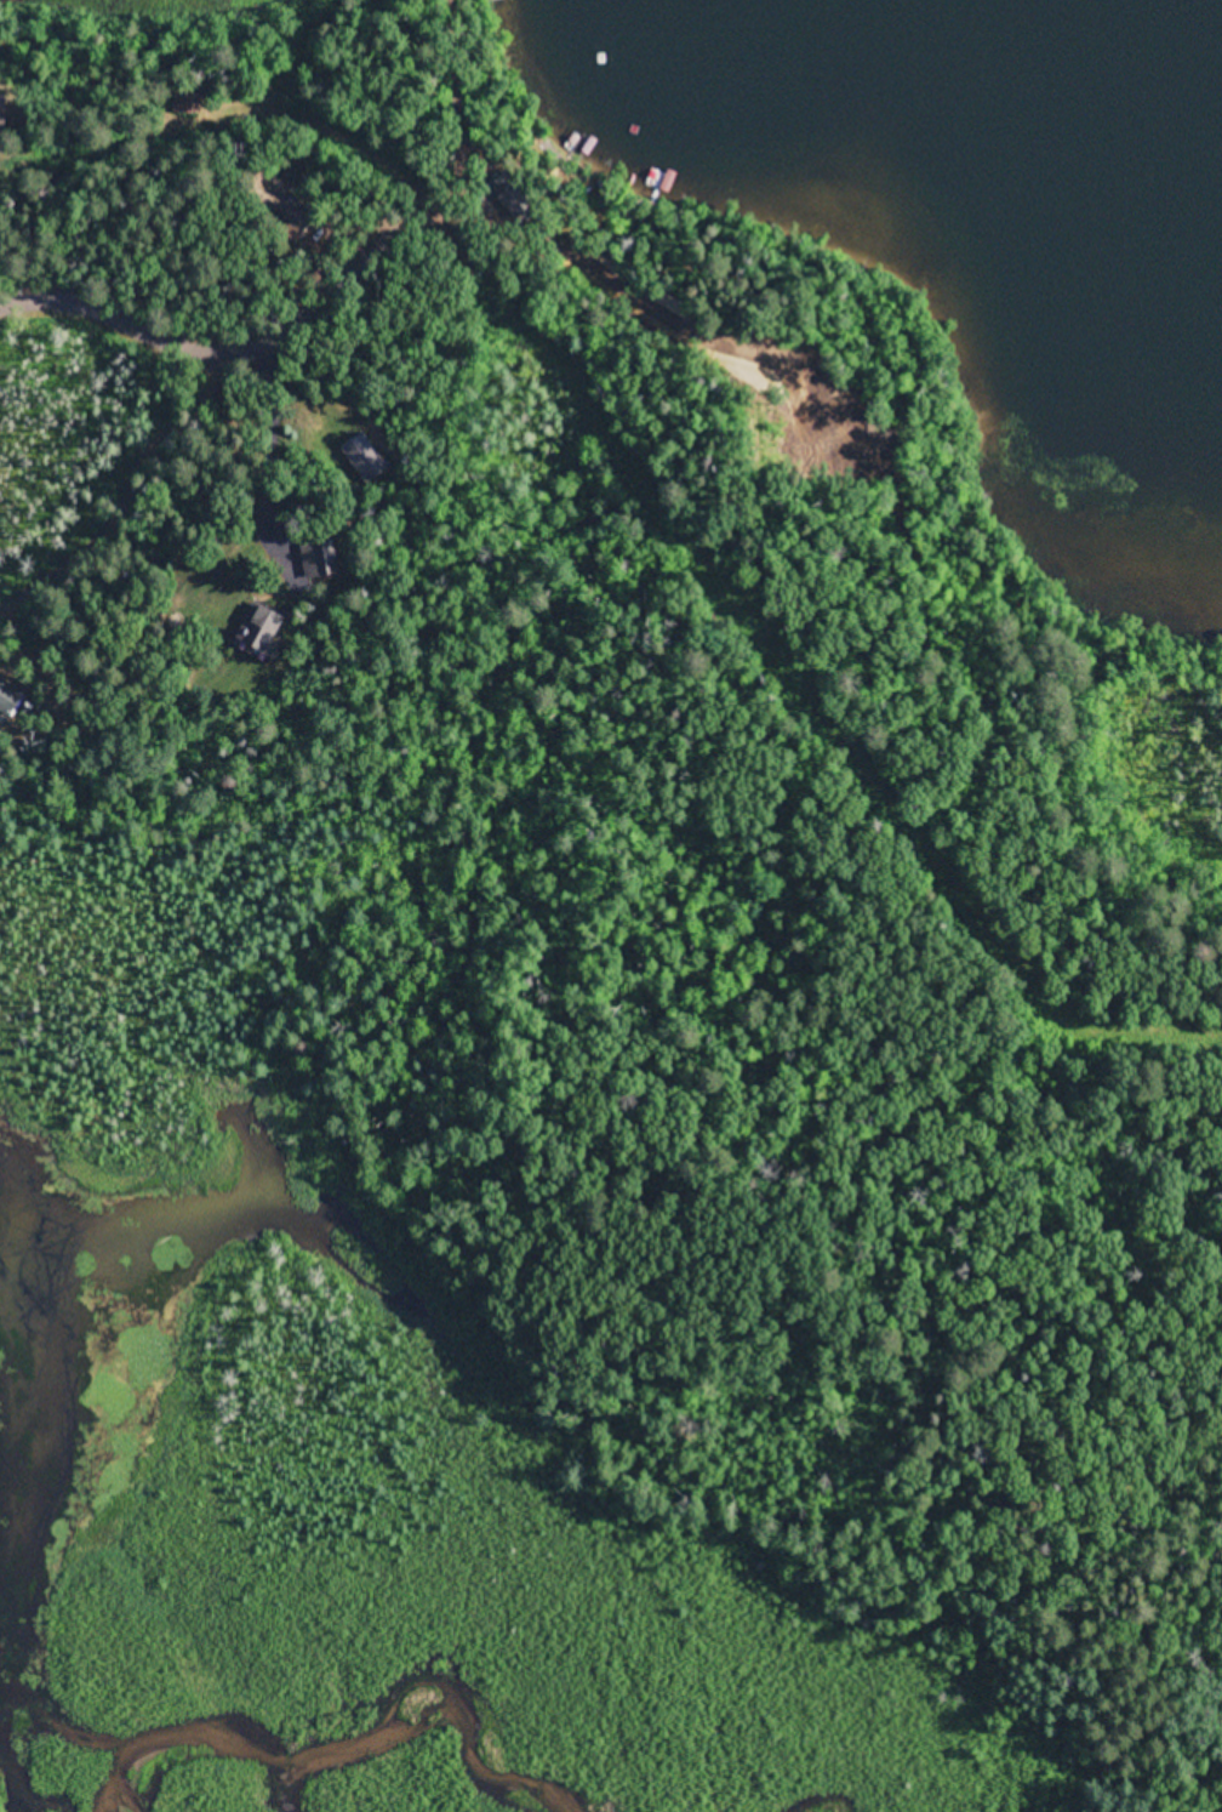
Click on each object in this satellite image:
road: (424, 104)
road: (209, 119)
road: (223, 352)
road: (658, 535)
building: (321, 562)
building: (280, 619)

